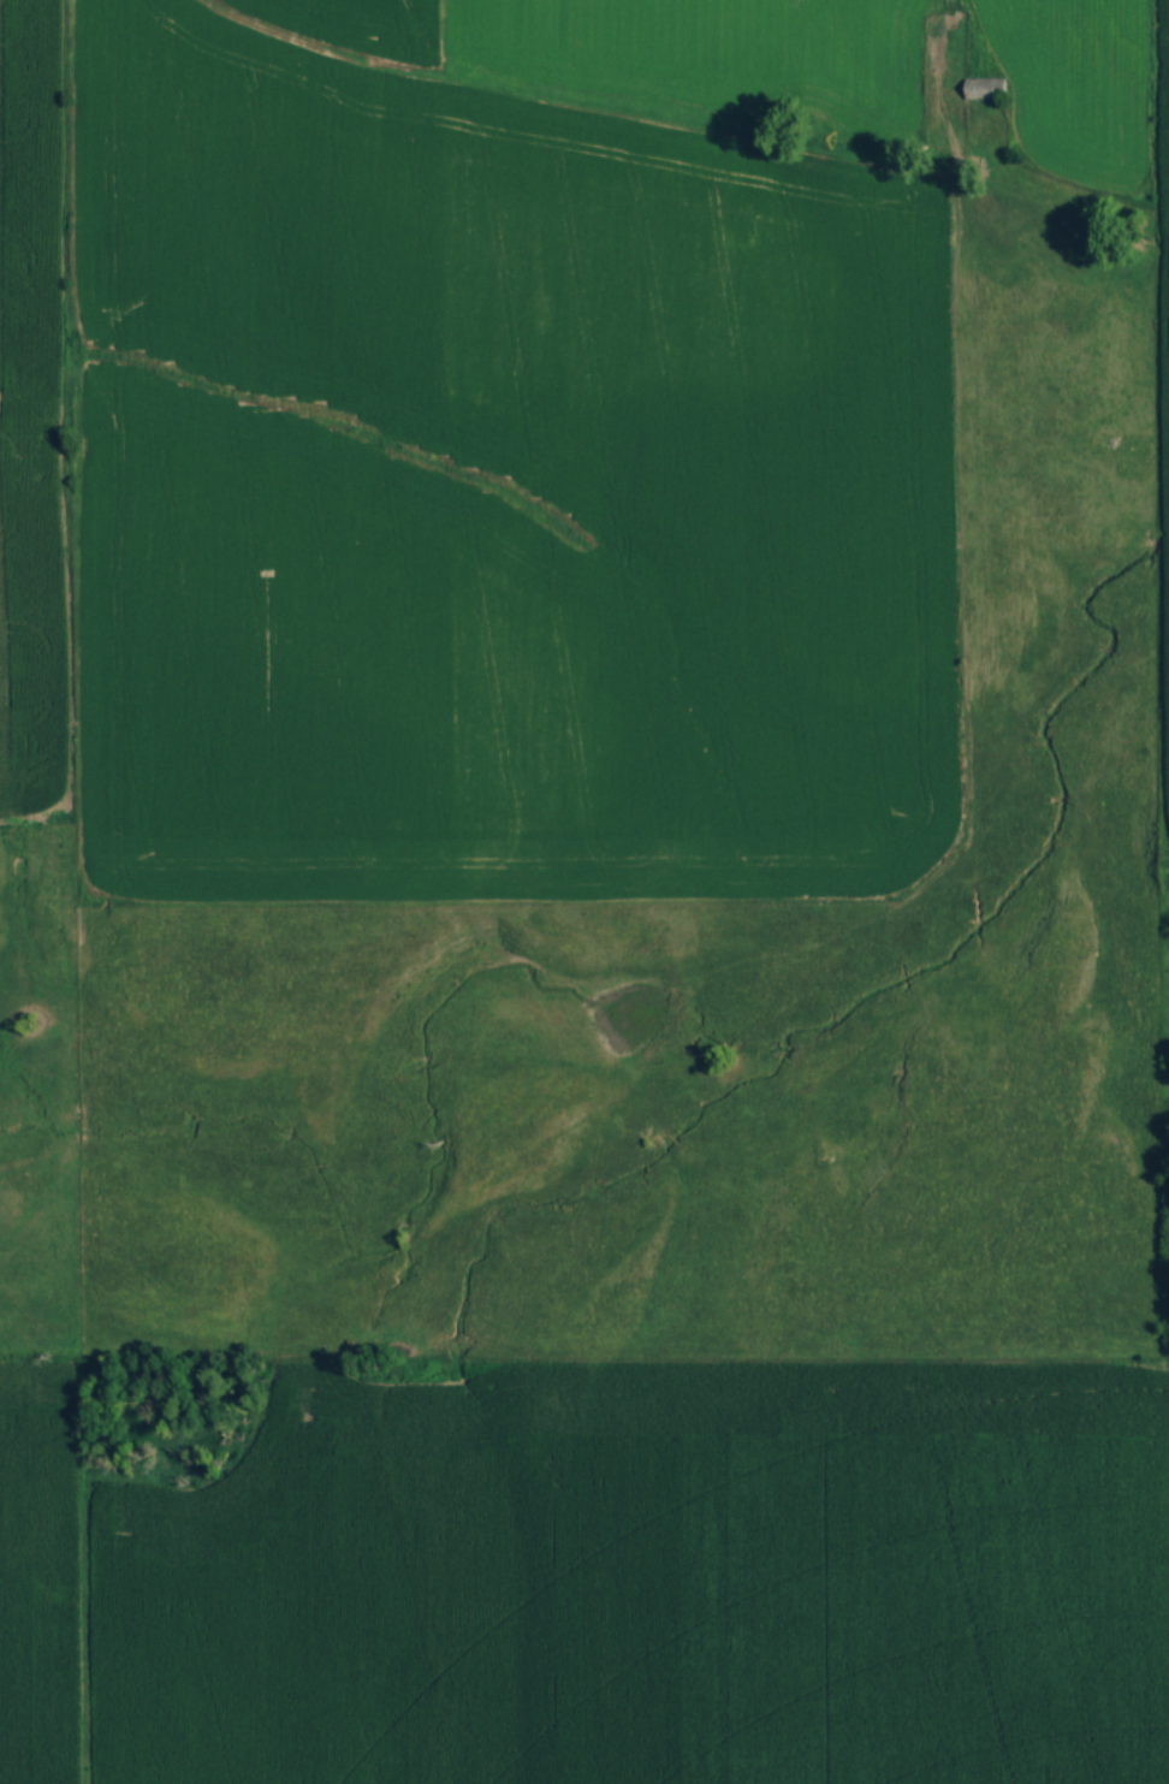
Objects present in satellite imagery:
building: (985, 89)
building: (909, 1773)

